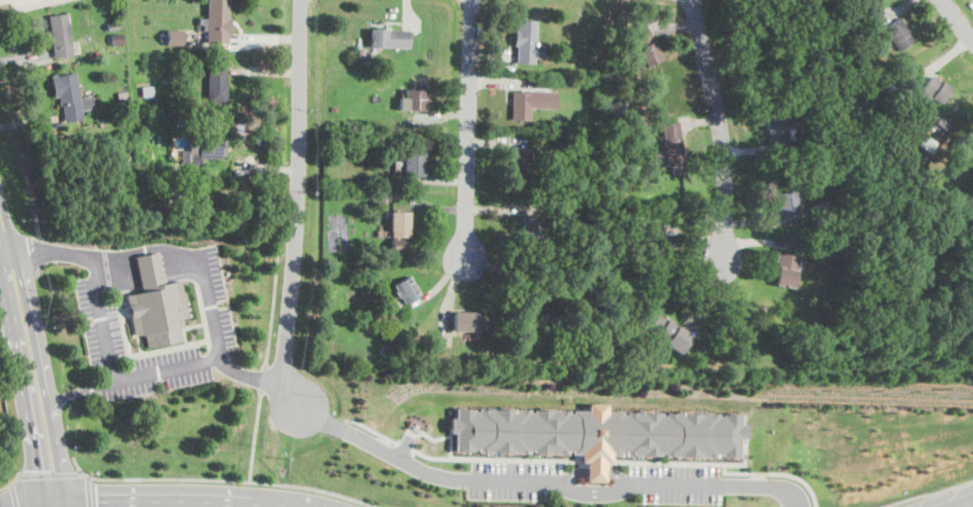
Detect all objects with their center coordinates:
road: (36, 1)
road: (957, 19)
building: (217, 21)
building: (899, 32)
building: (61, 33)
building: (174, 35)
building: (389, 36)
building: (525, 42)
building: (644, 44)
building: (217, 83)
building: (935, 89)
building: (70, 96)
building: (414, 97)
building: (526, 102)
road: (720, 127)
building: (869, 128)
road: (469, 129)
building: (776, 129)
building: (966, 141)
building: (673, 145)
building: (205, 149)
building: (413, 163)
building: (523, 163)
building: (785, 202)
road: (298, 204)
building: (400, 230)
building: (532, 232)
building: (661, 243)
road: (149, 248)
road: (49, 251)
road: (7, 260)
building: (786, 268)
road: (150, 271)
road: (276, 283)
building: (407, 288)
parking lot: (223, 295)
building: (158, 303)
building: (542, 308)
road: (203, 311)
building: (466, 319)
road: (193, 325)
parking lot: (100, 327)
road: (125, 327)
building: (668, 332)
road: (186, 335)
road: (141, 342)
road: (210, 343)
road: (219, 345)
road: (164, 348)
road: (111, 369)
parking lot: (165, 373)
road: (263, 377)
road: (83, 389)
road: (48, 393)
road: (23, 397)
building: (598, 432)
road: (255, 435)
road: (382, 448)
traffic signals: (37, 470)
road: (79, 470)
road: (597, 470)
road: (779, 472)
road: (49, 473)
road: (88, 477)
road: (222, 479)
road: (10, 481)
road: (518, 481)
road: (676, 482)
road: (11, 483)
road: (763, 484)
road: (597, 491)
road: (88, 492)
road: (923, 494)
road: (14, 495)
traffic signals: (97, 500)
road: (177, 500)
road: (34, 501)
road: (952, 501)
road: (68, 503)
road: (42, 504)

